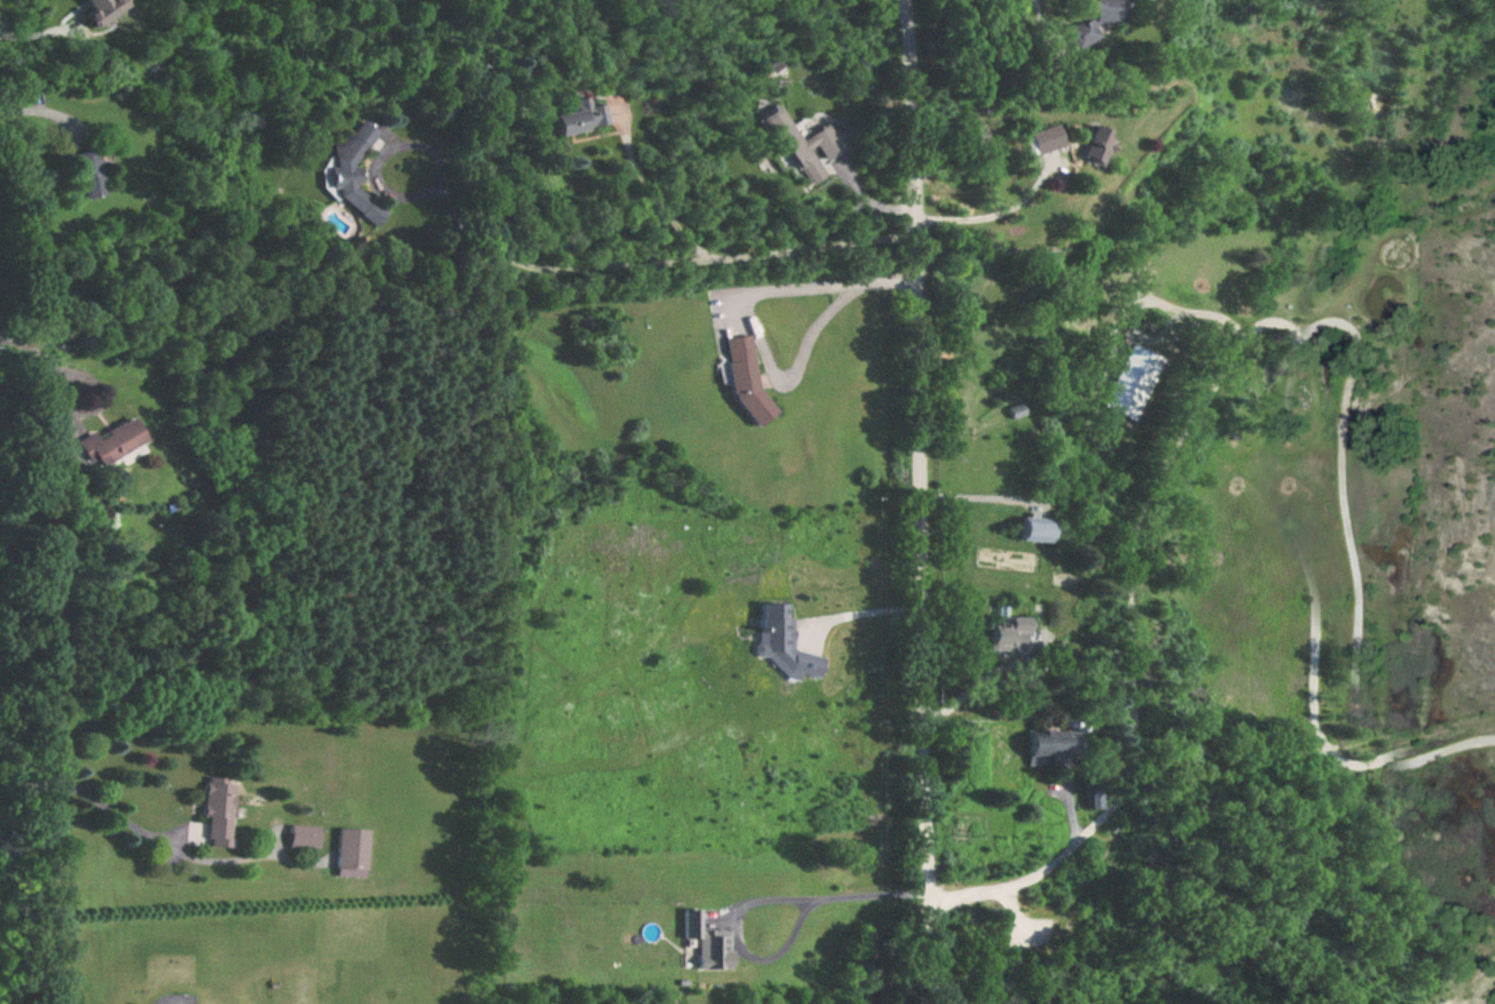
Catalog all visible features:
building: (1089, 18)
road: (1043, 31)
road: (30, 36)
road: (45, 114)
building: (577, 118)
building: (1041, 136)
building: (1093, 140)
building: (797, 145)
building: (353, 172)
road: (649, 193)
road: (994, 210)
road: (469, 234)
road: (813, 247)
road: (1468, 287)
road: (1102, 290)
road: (747, 320)
road: (1173, 337)
road: (49, 361)
building: (1159, 378)
building: (745, 379)
road: (1227, 405)
building: (1019, 408)
building: (110, 441)
road: (983, 498)
road: (923, 501)
building: (1034, 526)
road: (863, 618)
building: (1006, 627)
building: (781, 643)
road: (1000, 666)
road: (1419, 728)
road: (1491, 733)
building: (1049, 742)
road: (1417, 753)
road: (1167, 789)
building: (1093, 795)
road: (1069, 799)
road: (94, 801)
building: (216, 813)
building: (302, 836)
building: (350, 848)
road: (761, 895)
road: (968, 897)
road: (1014, 920)
parking lot: (1030, 931)
building: (703, 943)

